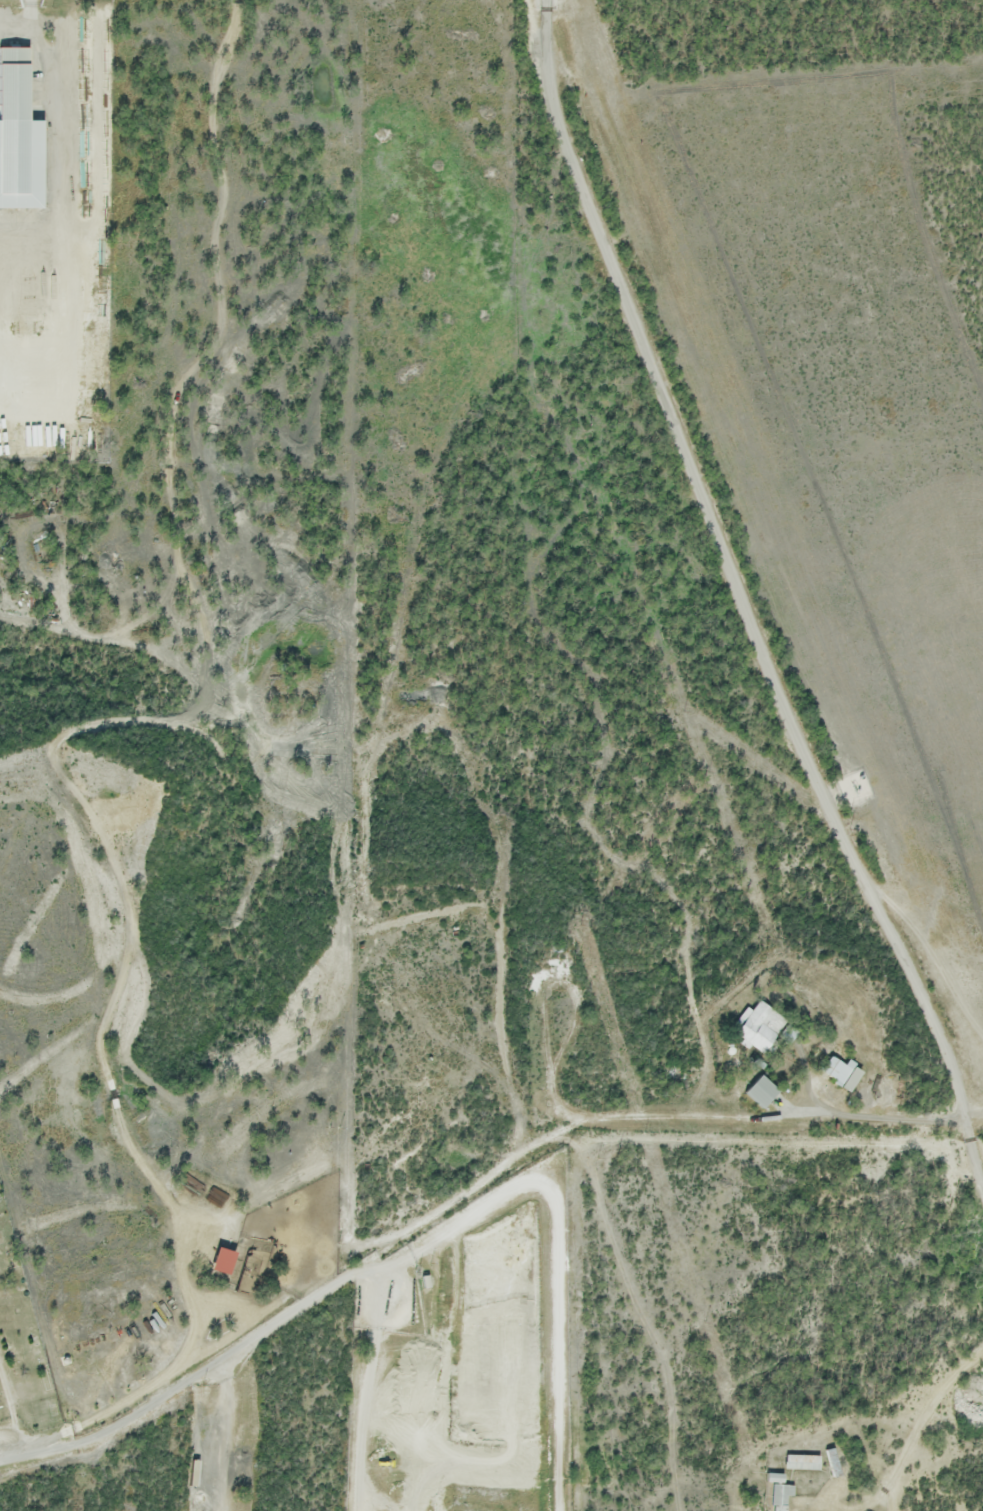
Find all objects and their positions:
building: (20, 135)
road: (741, 599)
building: (759, 1026)
building: (842, 1073)
building: (764, 1090)
road: (468, 1184)
building: (224, 1260)
road: (567, 1319)
park: (22, 1346)
road: (366, 1380)
road: (13, 1450)
building: (834, 1461)
building: (804, 1462)
building: (781, 1496)

